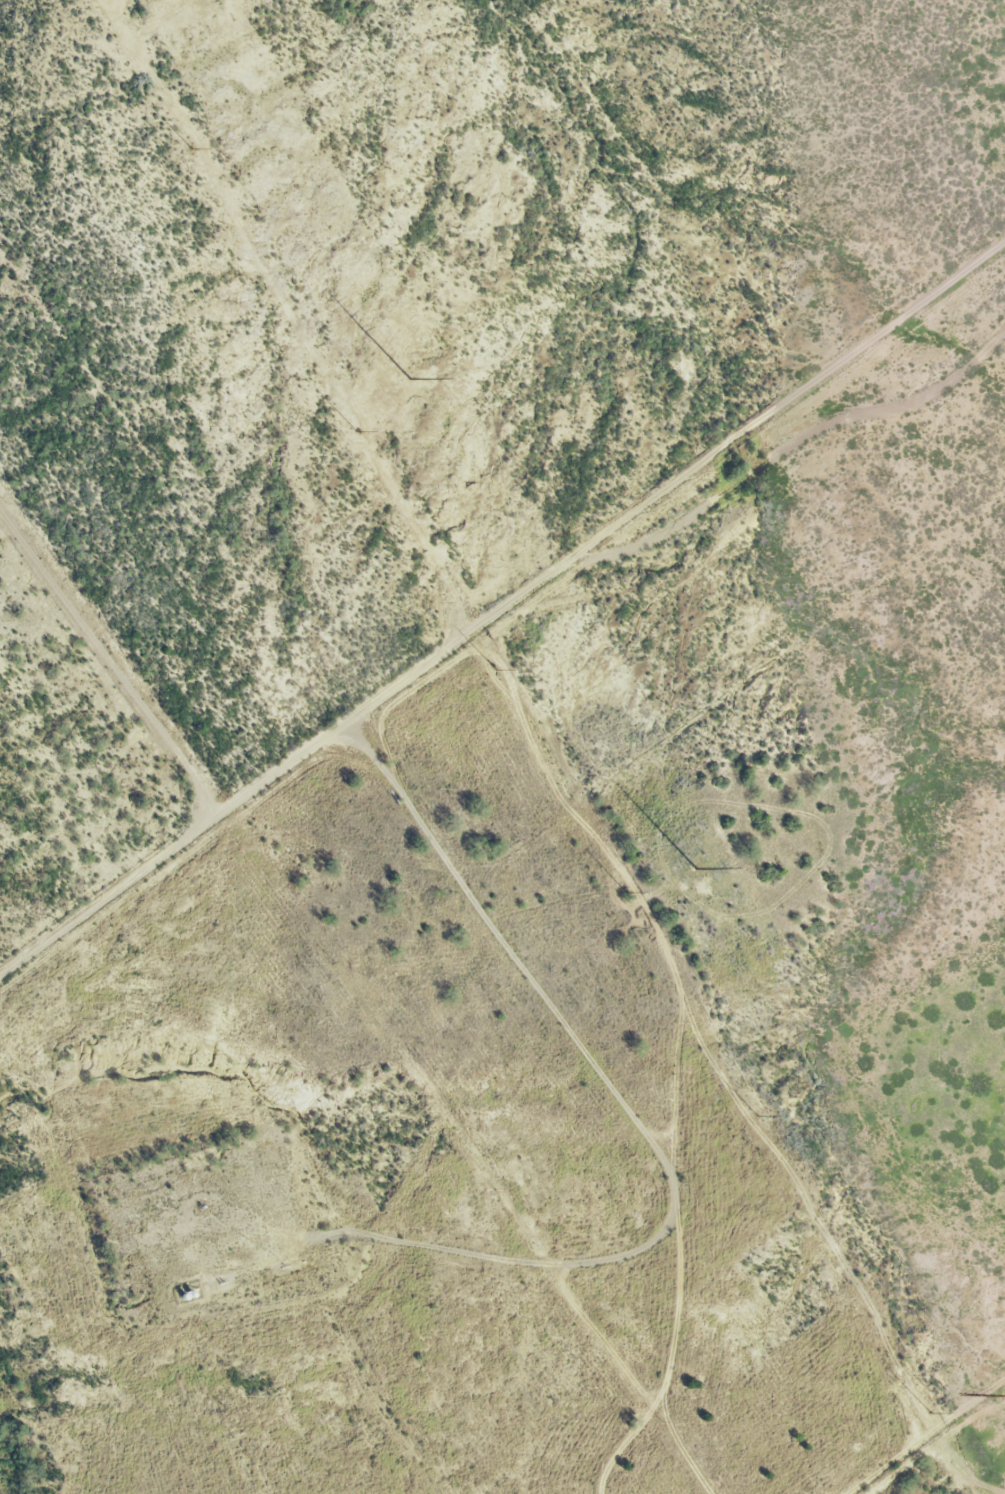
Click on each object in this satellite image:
power tower: (189, 149)
power tower: (405, 381)
power tower: (354, 432)
road: (477, 642)
power tower: (494, 670)
power tower: (694, 868)
power tower: (624, 893)
power tower: (753, 1117)
power tower: (1001, 1396)
power tower: (929, 1414)

